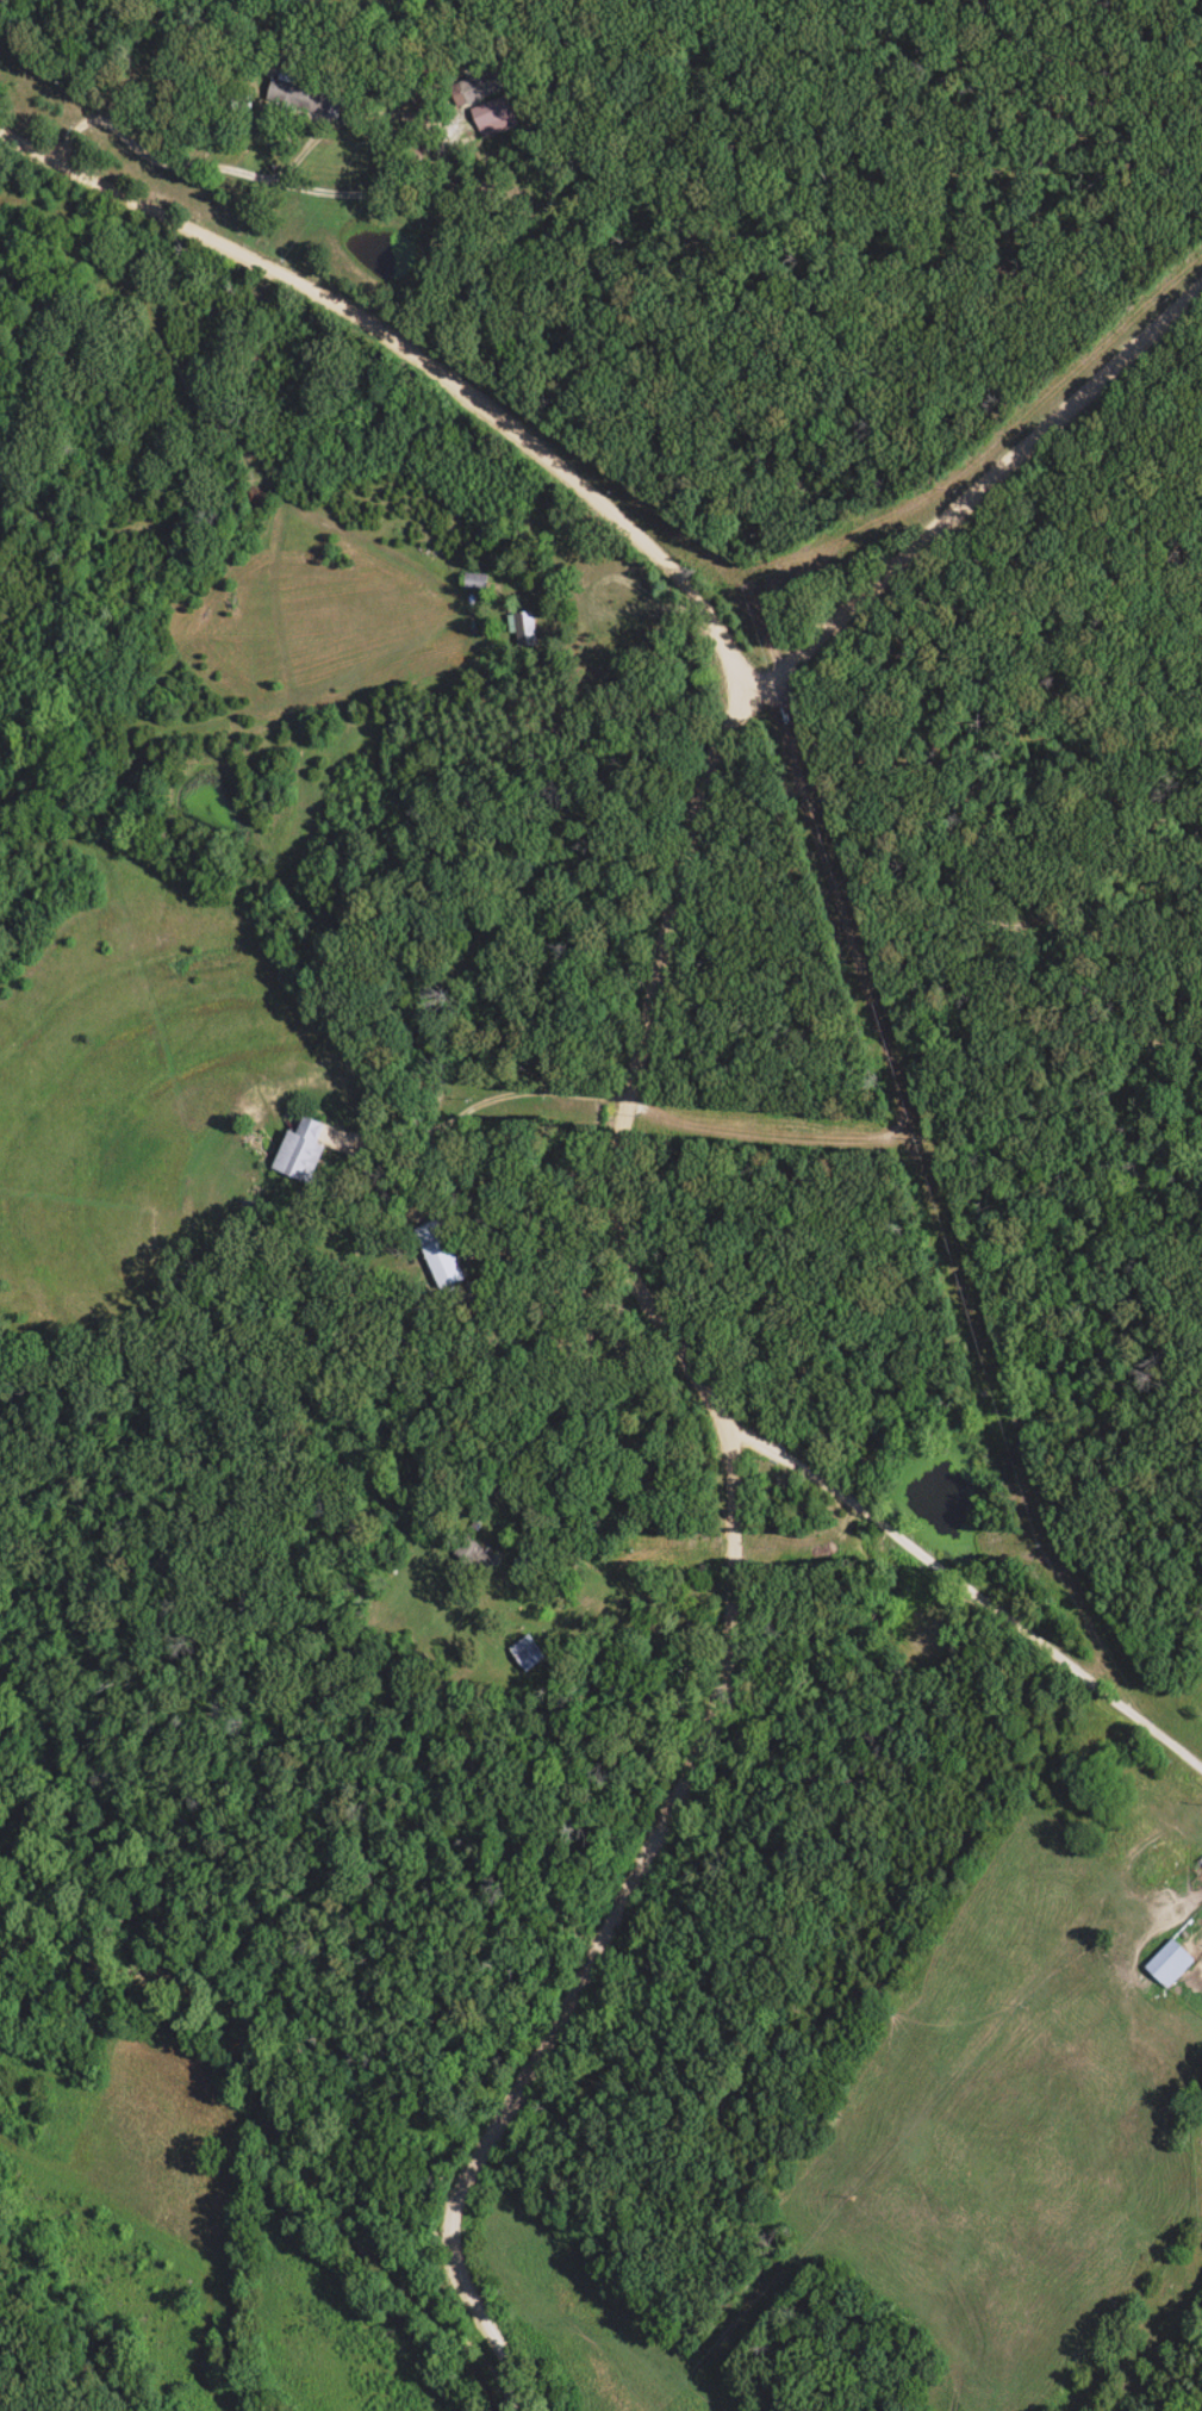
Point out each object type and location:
building: (484, 88)
building: (307, 99)
building: (493, 119)
road: (342, 192)
road: (980, 505)
building: (522, 632)
road: (477, 1106)
road: (627, 1108)
building: (447, 1264)
road: (965, 1590)
building: (529, 1655)
building: (1170, 1965)

